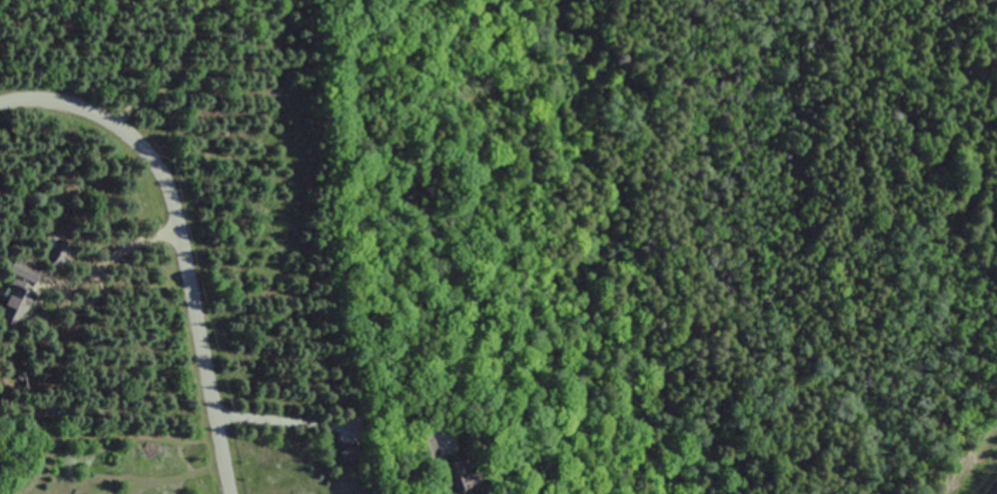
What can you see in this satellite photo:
road: (176, 67)
road: (180, 240)
road: (129, 246)
building: (57, 254)
building: (15, 307)
road: (274, 417)

